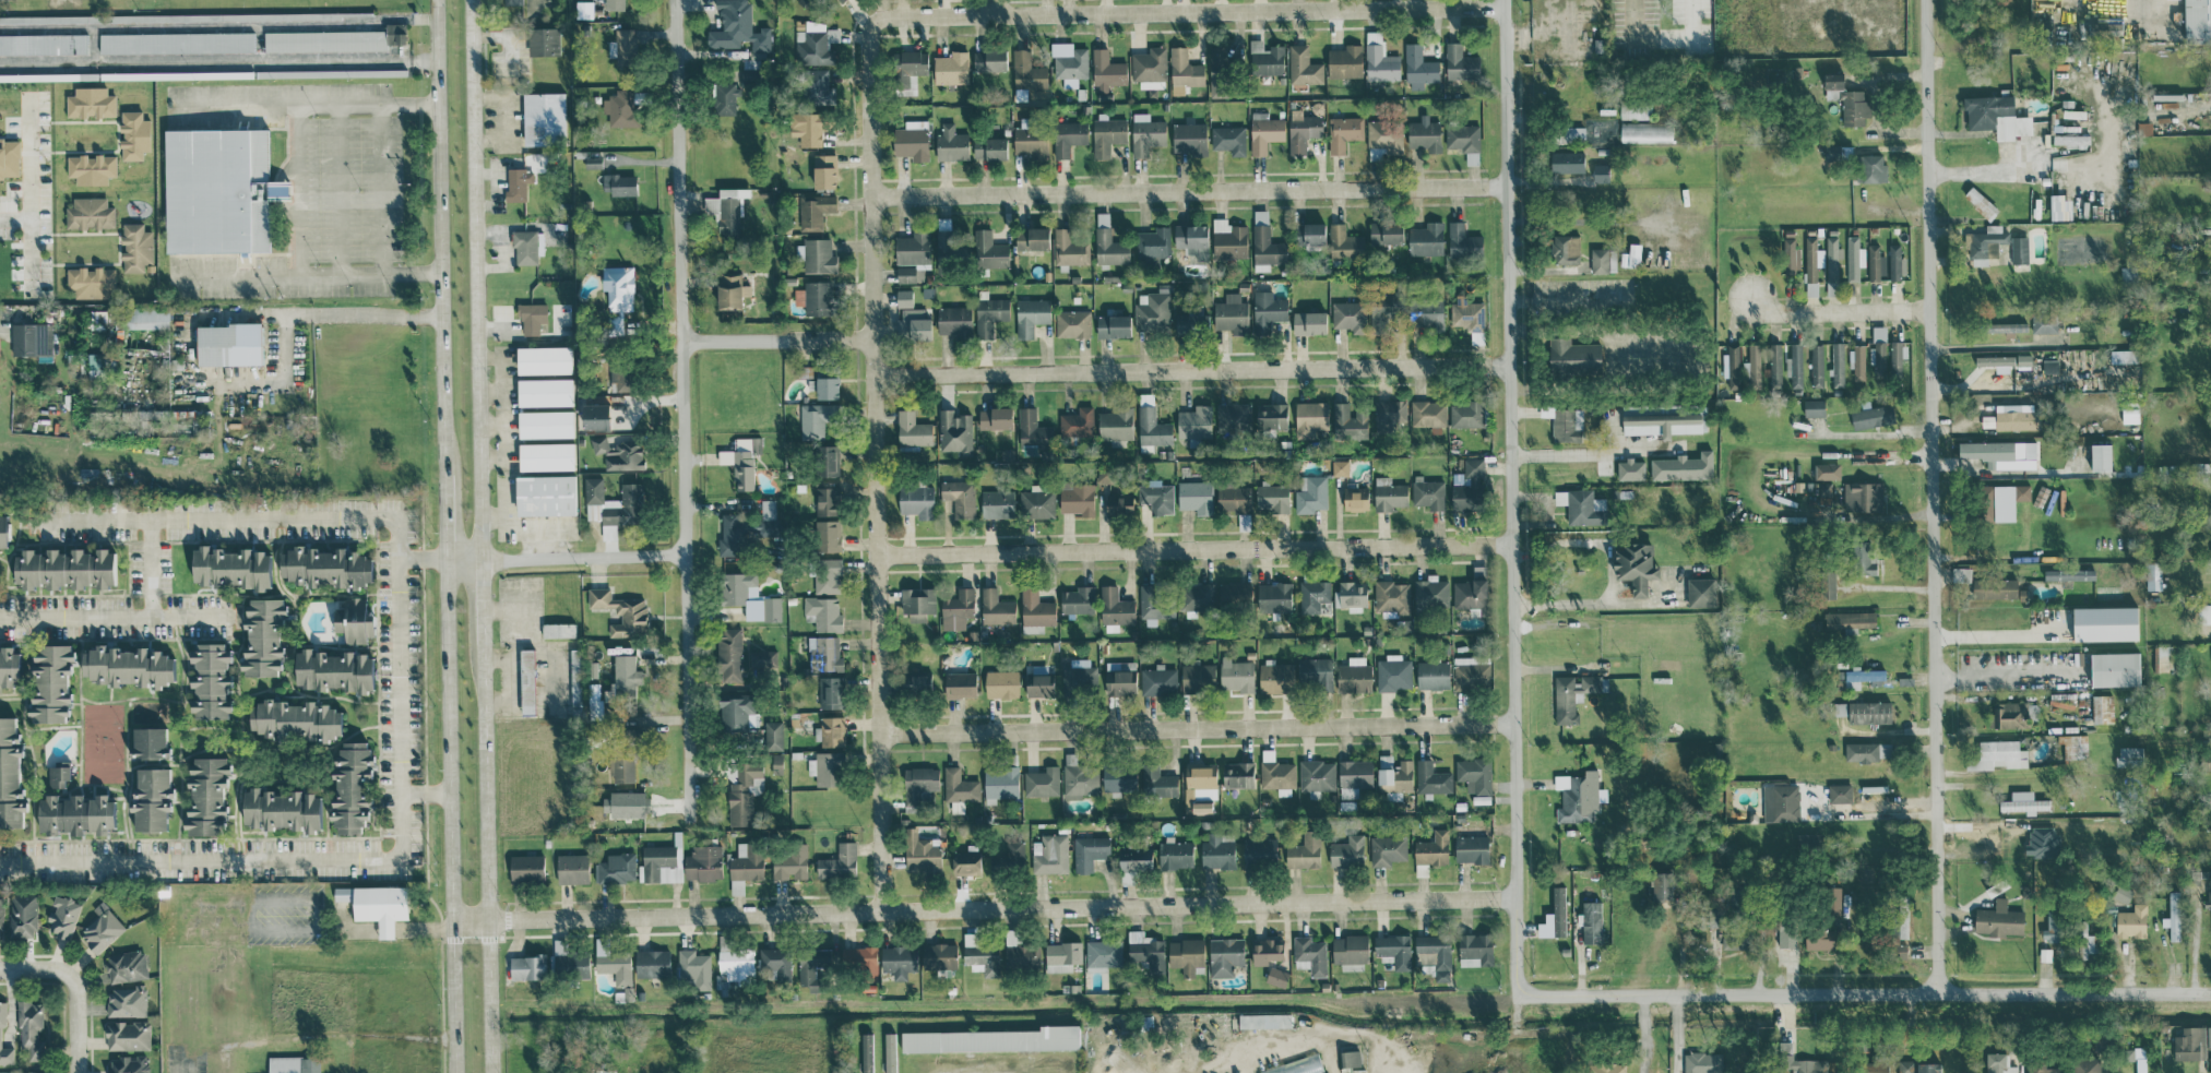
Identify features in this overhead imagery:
building: (840, 0)
building: (510, 4)
building: (614, 4)
road: (991, 8)
building: (583, 10)
road: (1191, 12)
road: (1696, 16)
road: (1636, 19)
building: (2197, 21)
road: (217, 24)
building: (737, 28)
building: (394, 33)
road: (1835, 33)
building: (323, 40)
building: (176, 41)
road: (405, 41)
building: (542, 41)
building: (44, 44)
building: (815, 44)
building: (623, 48)
building: (1265, 58)
building: (1379, 59)
building: (988, 60)
building: (1344, 61)
building: (1069, 62)
building: (1460, 62)
road: (217, 64)
building: (1303, 65)
building: (907, 67)
building: (1418, 67)
building: (950, 68)
building: (1149, 68)
building: (1184, 69)
building: (1106, 70)
building: (1026, 71)
building: (1219, 71)
building: (817, 87)
building: (724, 98)
building: (1846, 100)
building: (90, 103)
road: (307, 105)
building: (619, 108)
building: (1635, 109)
building: (1996, 116)
building: (543, 118)
building: (807, 128)
building: (2143, 129)
building: (1301, 130)
building: (1264, 132)
building: (1343, 132)
building: (1645, 132)
building: (1145, 134)
building: (1424, 134)
building: (1568, 134)
building: (133, 135)
building: (1107, 135)
building: (1067, 136)
building: (1384, 136)
building: (1189, 138)
building: (911, 140)
building: (1228, 140)
building: (1464, 141)
building: (1031, 142)
building: (950, 143)
building: (989, 148)
building: (9, 158)
building: (1568, 162)
building: (592, 163)
road: (2061, 163)
road: (29, 166)
building: (91, 168)
building: (1870, 168)
building: (823, 171)
building: (516, 183)
building: (618, 183)
road: (337, 189)
road: (382, 189)
building: (215, 190)
road: (1190, 193)
building: (1981, 202)
building: (2060, 207)
building: (813, 210)
building: (726, 212)
building: (88, 213)
road: (32, 230)
building: (1384, 233)
building: (1296, 235)
building: (1312, 236)
building: (1191, 238)
building: (1031, 239)
building: (1228, 239)
building: (1425, 239)
building: (1462, 240)
building: (1264, 243)
building: (1344, 243)
building: (1984, 243)
building: (1152, 245)
building: (135, 247)
building: (524, 247)
building: (1109, 248)
building: (1069, 249)
building: (1565, 249)
building: (2019, 249)
building: (988, 250)
building: (912, 255)
building: (818, 257)
building: (1855, 257)
road: (299, 258)
building: (1832, 258)
building: (1598, 260)
building: (1811, 262)
building: (1876, 263)
building: (1895, 263)
road: (248, 273)
building: (91, 282)
building: (617, 286)
building: (729, 289)
building: (813, 297)
building: (903, 297)
building: (1152, 310)
building: (1267, 310)
road: (1841, 312)
road: (359, 313)
building: (1231, 313)
building: (1380, 313)
building: (989, 314)
building: (1424, 314)
building: (1030, 315)
building: (1348, 315)
building: (145, 317)
building: (531, 317)
building: (1469, 317)
building: (953, 319)
building: (1190, 319)
building: (618, 322)
building: (1071, 322)
building: (1308, 322)
building: (913, 323)
building: (2044, 323)
building: (1112, 325)
building: (2005, 326)
road: (3, 329)
building: (31, 338)
road: (778, 339)
building: (227, 343)
building: (1885, 353)
building: (2126, 355)
building: (1572, 356)
building: (543, 359)
building: (1857, 360)
building: (1996, 361)
building: (1771, 362)
building: (1838, 362)
building: (95, 365)
building: (1794, 365)
building: (1817, 365)
road: (1192, 370)
building: (620, 378)
building: (825, 386)
building: (544, 391)
building: (1814, 406)
road: (683, 412)
building: (1389, 412)
building: (1427, 412)
building: (1465, 413)
building: (1271, 414)
building: (2129, 414)
building: (593, 415)
building: (1233, 415)
building: (1871, 415)
building: (2016, 416)
building: (994, 417)
building: (1310, 417)
building: (815, 418)
building: (1350, 419)
building: (1987, 420)
building: (545, 422)
building: (1077, 422)
building: (1114, 424)
building: (1661, 424)
building: (1030, 427)
building: (1152, 427)
building: (912, 429)
building: (954, 431)
building: (597, 443)
road: (1595, 451)
building: (2000, 453)
building: (545, 455)
building: (623, 455)
building: (2100, 456)
building: (741, 460)
building: (827, 460)
road: (877, 466)
building: (1683, 466)
building: (1340, 467)
building: (1630, 468)
building: (1466, 486)
building: (1428, 492)
building: (1310, 493)
building: (544, 494)
building: (959, 496)
building: (1155, 496)
building: (1194, 496)
building: (1389, 496)
building: (1863, 496)
road: (1930, 496)
building: (1075, 497)
building: (1271, 497)
building: (1233, 498)
building: (1355, 498)
road: (1510, 498)
building: (824, 500)
building: (915, 500)
building: (1036, 501)
building: (1998, 501)
building: (613, 502)
building: (997, 502)
building: (1118, 502)
building: (1581, 505)
road: (218, 517)
road: (442, 520)
building: (746, 528)
building: (2, 529)
building: (827, 535)
road: (479, 536)
road: (1194, 549)
road: (564, 556)
road: (421, 558)
building: (1863, 558)
building: (322, 565)
building: (1635, 565)
building: (228, 567)
building: (64, 568)
road: (150, 568)
road: (1608, 569)
building: (1961, 573)
building: (2069, 573)
building: (824, 574)
building: (2153, 575)
building: (1827, 584)
building: (736, 585)
building: (1994, 587)
building: (1471, 589)
building: (1430, 591)
building: (1699, 592)
building: (1312, 594)
building: (1234, 595)
building: (1350, 595)
building: (1391, 595)
building: (1273, 596)
building: (1196, 597)
building: (1077, 599)
building: (917, 603)
building: (1155, 604)
building: (995, 607)
building: (770, 608)
building: (956, 608)
building: (1115, 608)
building: (1035, 610)
building: (2203, 612)
building: (632, 616)
road: (116, 617)
building: (353, 620)
building: (1850, 620)
building: (2105, 622)
building: (557, 629)
building: (261, 636)
building: (823, 653)
building: (728, 654)
building: (2162, 658)
building: (758, 663)
building: (123, 665)
building: (7, 666)
building: (2114, 668)
building: (331, 669)
building: (1471, 671)
building: (625, 672)
building: (1313, 672)
building: (1393, 672)
road: (2008, 673)
building: (1079, 675)
building: (1354, 675)
building: (1433, 675)
building: (1236, 676)
building: (1858, 676)
building: (574, 677)
building: (1119, 677)
building: (1197, 677)
building: (1274, 678)
building: (207, 680)
building: (525, 680)
building: (1157, 680)
building: (48, 682)
building: (914, 682)
building: (959, 683)
building: (1001, 683)
building: (1038, 684)
building: (830, 691)
building: (1572, 694)
building: (594, 700)
building: (2102, 707)
building: (1840, 708)
building: (1868, 711)
building: (736, 712)
building: (2008, 714)
building: (293, 719)
road: (1198, 730)
building: (831, 731)
building: (773, 735)
building: (147, 741)
building: (2073, 744)
building: (1868, 750)
building: (1996, 754)
building: (2129, 755)
building: (2207, 760)
building: (776, 762)
building: (825, 767)
building: (620, 768)
building: (1354, 773)
building: (1237, 774)
building: (1276, 774)
building: (1393, 774)
building: (1474, 774)
building: (9, 775)
building: (57, 775)
building: (1316, 776)
building: (1118, 777)
building: (1431, 777)
building: (1201, 778)
building: (1079, 779)
building: (1156, 780)
building: (1042, 782)
building: (999, 783)
building: (917, 785)
building: (348, 786)
building: (959, 788)
building: (742, 790)
road: (424, 792)
building: (1840, 792)
building: (204, 796)
building: (1577, 796)
building: (148, 798)
building: (2023, 801)
building: (1780, 802)
building: (622, 803)
building: (1201, 807)
building: (278, 809)
road: (1869, 812)
building: (72, 813)
building: (1986, 842)
building: (1431, 848)
building: (1471, 848)
building: (1387, 849)
building: (920, 850)
building: (1259, 850)
building: (1304, 850)
building: (1346, 850)
building: (1089, 851)
building: (1216, 851)
building: (1049, 853)
building: (1013, 854)
building: (1174, 854)
building: (1133, 858)
road: (373, 860)
building: (965, 860)
building: (746, 861)
building: (788, 861)
building: (837, 861)
building: (702, 862)
building: (525, 867)
building: (571, 868)
building: (615, 868)
building: (1420, 869)
building: (1662, 884)
building: (2121, 894)
building: (1832, 899)
building: (376, 905)
road: (983, 909)
building: (22, 915)
building: (0, 916)
building: (62, 916)
building: (1554, 916)
building: (1900, 916)
building: (2173, 916)
building: (1998, 919)
building: (1591, 921)
building: (2131, 921)
building: (2053, 927)
building: (100, 929)
building: (1786, 933)
building: (1818, 938)
building: (1734, 940)
building: (2084, 940)
road: (2195, 944)
building: (1474, 949)
building: (1265, 950)
building: (1899, 950)
building: (1393, 951)
building: (1146, 952)
building: (1350, 952)
building: (1103, 953)
building: (1186, 954)
building: (938, 955)
building: (979, 955)
building: (1061, 955)
building: (1224, 955)
building: (1433, 955)
building: (898, 959)
building: (567, 962)
building: (651, 962)
building: (614, 963)
building: (775, 963)
building: (124, 965)
building: (526, 966)
building: (863, 966)
building: (692, 968)
building: (815, 968)
road: (39, 970)
building: (1276, 976)
road: (1864, 993)
building: (126, 1001)
road: (1911, 1010)
building: (2, 1014)
building: (1264, 1020)
road: (80, 1022)
building: (29, 1028)
road: (1683, 1033)
building: (127, 1035)
building: (2209, 1036)
building: (992, 1039)
building: (2190, 1044)
road: (1900, 1049)
building: (866, 1052)
building: (889, 1052)
building: (5, 1053)
road: (452, 1057)
building: (1796, 1060)
building: (1351, 1061)
road: (186, 1062)
building: (1702, 1062)
road: (1386, 1063)
building: (1998, 1063)
building: (126, 1064)
building: (293, 1064)
building: (1296, 1065)
building: (1904, 1065)
building: (2085, 1065)
building: (1606, 1066)
building: (1870, 1066)
building: (1927, 1068)
building: (2042, 1069)

